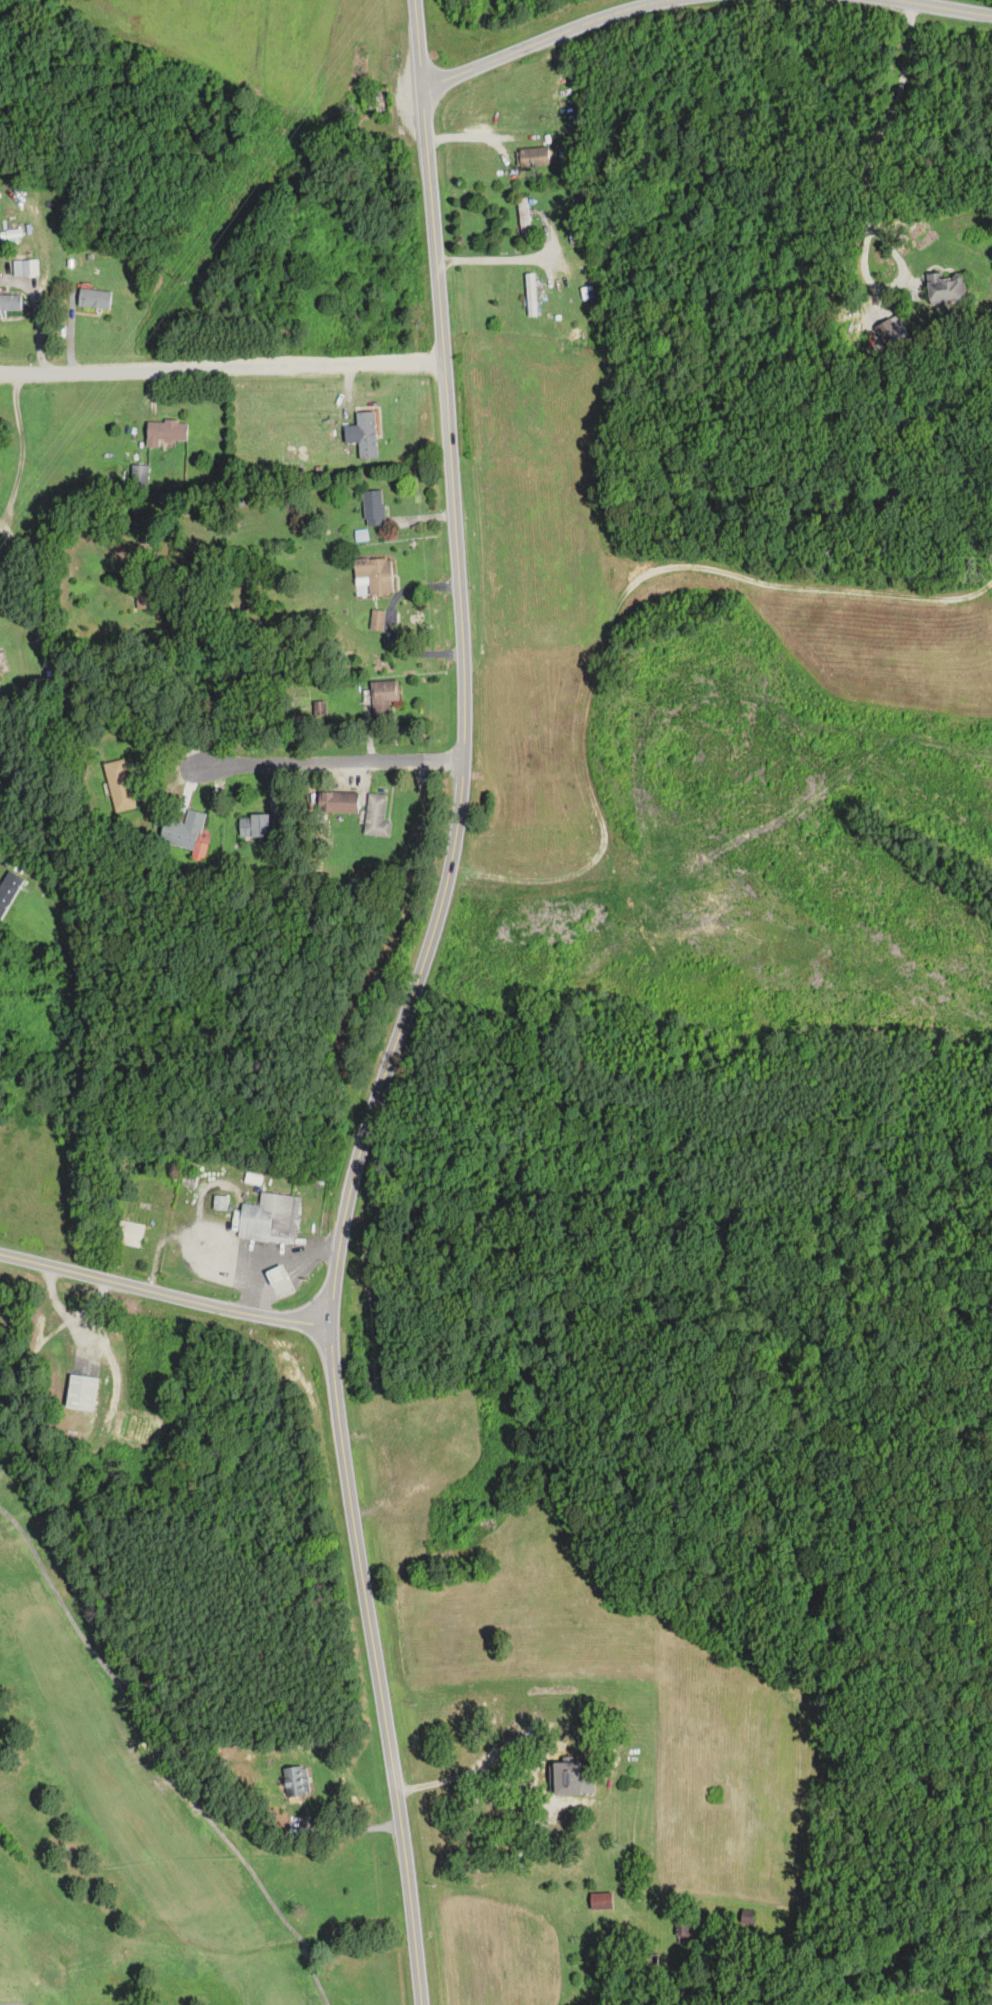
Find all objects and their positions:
road: (950, 7)
road: (544, 39)
road: (420, 42)
building: (383, 100)
building: (533, 157)
road: (869, 190)
building: (524, 219)
road: (497, 257)
building: (25, 268)
power tower: (181, 279)
building: (945, 289)
building: (531, 294)
building: (94, 299)
building: (10, 302)
road: (223, 372)
building: (165, 431)
building: (367, 434)
building: (135, 477)
building: (374, 507)
building: (374, 576)
building: (144, 597)
building: (377, 619)
building: (383, 696)
road: (463, 713)
road: (330, 765)
building: (119, 785)
building: (338, 802)
building: (376, 816)
building: (262, 825)
building: (186, 833)
road: (2, 860)
building: (9, 891)
building: (189, 1178)
building: (220, 1202)
building: (272, 1218)
building: (128, 1233)
road: (255, 1260)
road: (297, 1273)
building: (279, 1276)
gas station: (279, 1276)
road: (164, 1294)
building: (81, 1393)
road: (376, 1664)
road: (588, 1733)
building: (571, 1780)
building: (295, 1781)
park: (119, 1814)
road: (348, 1828)
building: (601, 1901)
building: (682, 1933)

